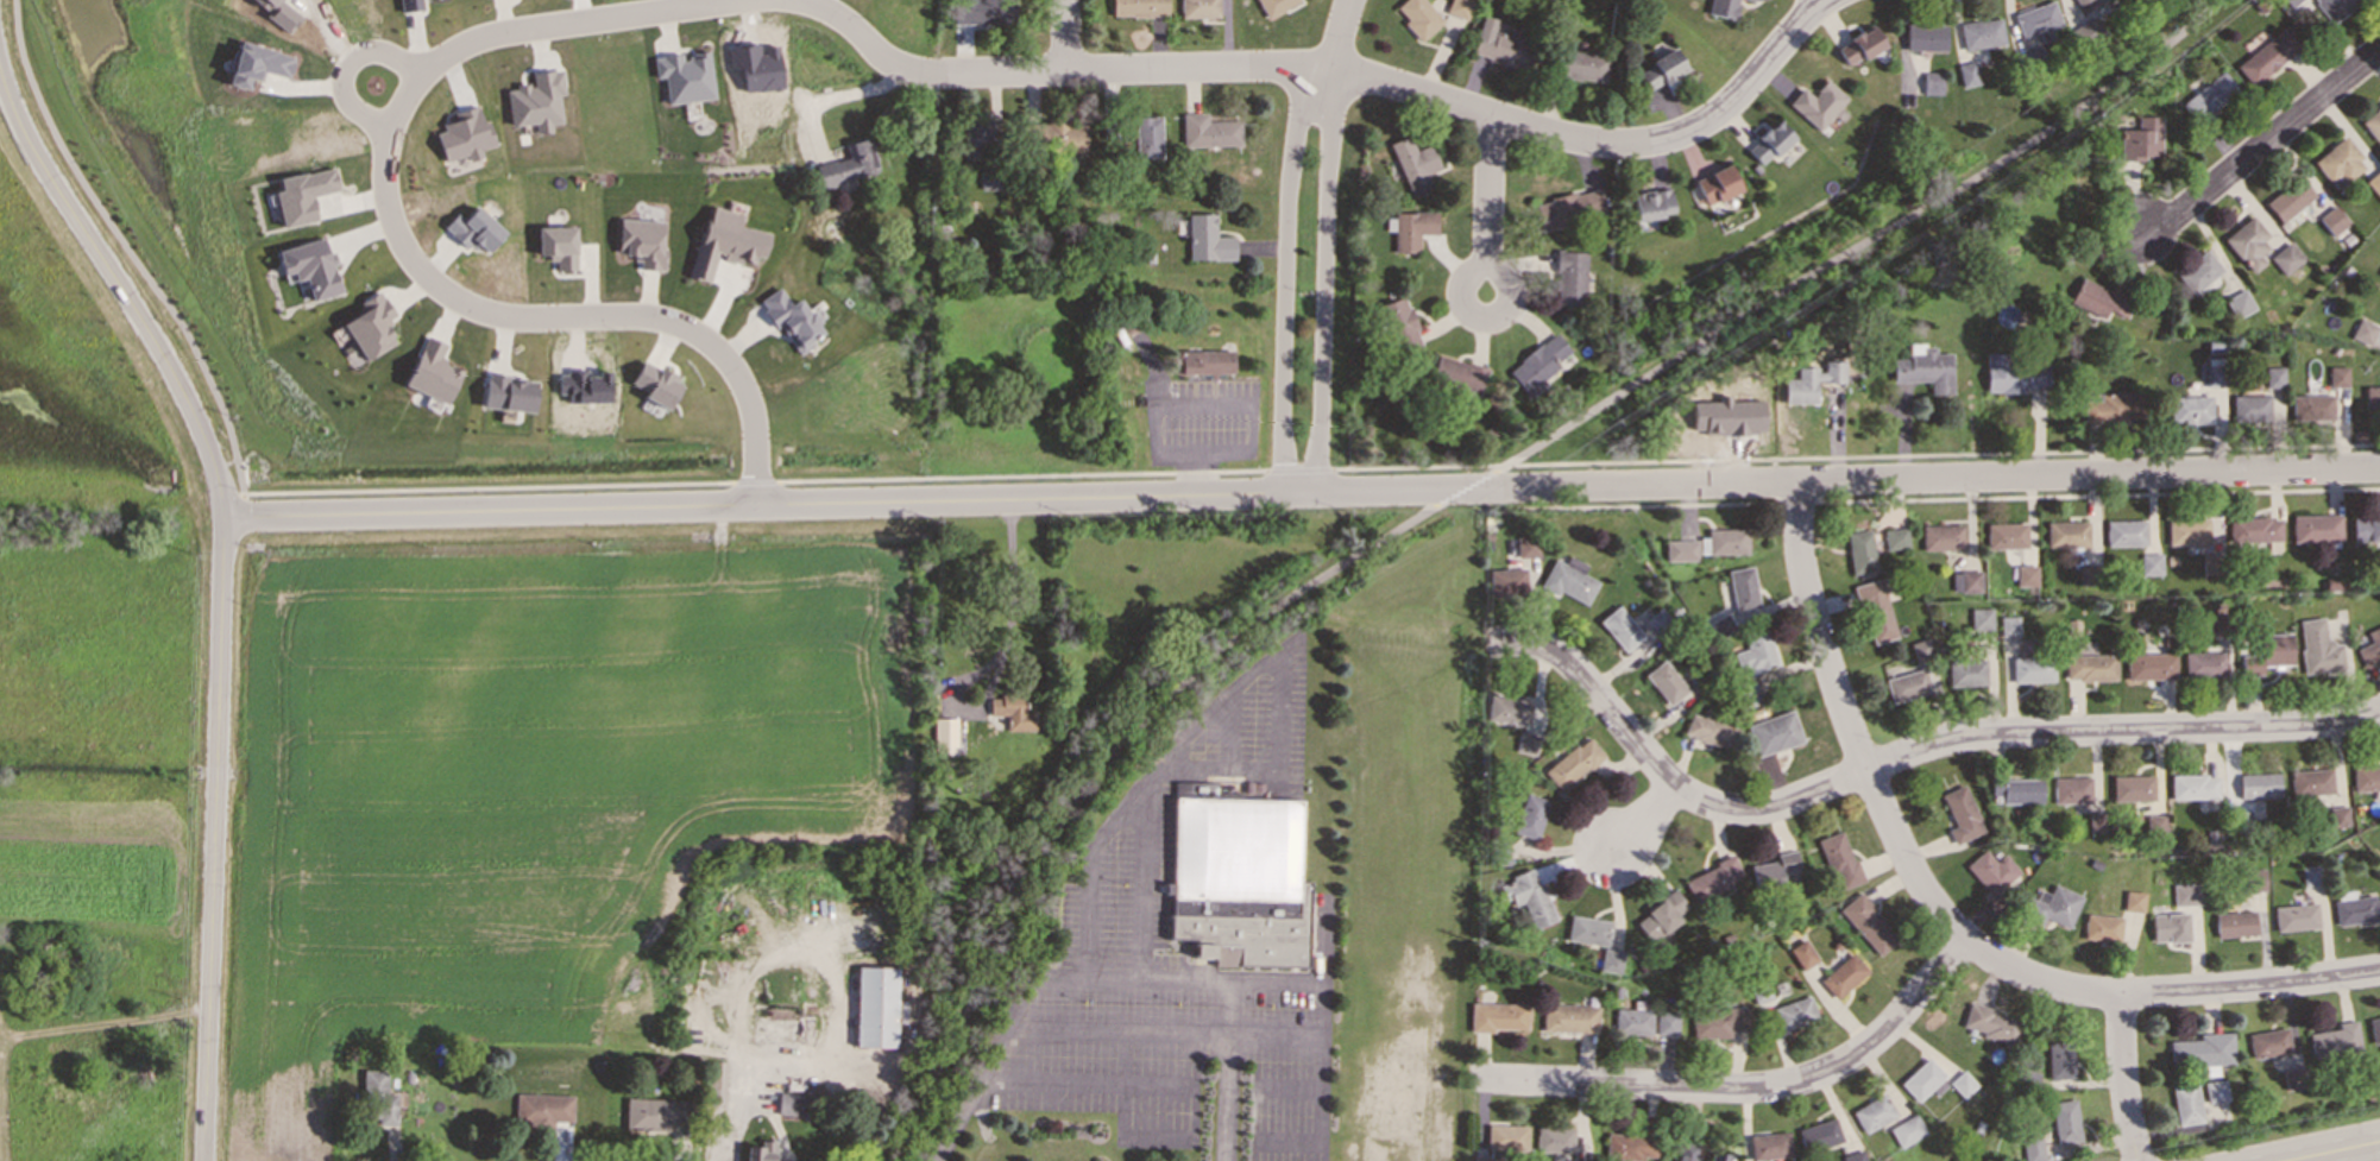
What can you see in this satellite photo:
building: (1749, 0)
building: (2290, 1)
road: (1819, 2)
building: (2085, 4)
building: (408, 5)
building: (1273, 6)
building: (1138, 7)
building: (1457, 7)
building: (1721, 7)
building: (2335, 7)
building: (1198, 8)
building: (982, 11)
building: (1417, 17)
building: (2036, 21)
road: (1340, 32)
building: (1981, 33)
road: (1064, 36)
building: (1923, 37)
building: (1500, 43)
building: (1859, 45)
building: (2267, 55)
building: (256, 63)
road: (339, 64)
building: (1582, 65)
building: (1660, 69)
building: (1967, 74)
building: (684, 76)
building: (1931, 82)
road: (1402, 88)
building: (2209, 96)
building: (535, 101)
building: (1817, 103)
building: (2372, 122)
building: (1208, 131)
building: (1056, 133)
building: (462, 135)
building: (1147, 137)
building: (976, 138)
building: (2140, 139)
building: (1768, 141)
road: (385, 145)
road: (2261, 146)
building: (2338, 163)
building: (848, 164)
building: (1413, 164)
building: (990, 178)
building: (2374, 183)
building: (1717, 184)
building: (301, 195)
building: (2288, 198)
building: (1650, 203)
road: (1487, 206)
building: (1568, 207)
building: (2331, 220)
building: (472, 229)
building: (1411, 229)
building: (1207, 239)
building: (724, 241)
building: (640, 242)
building: (2247, 242)
building: (555, 246)
building: (2285, 258)
building: (309, 266)
building: (2198, 271)
building: (2379, 273)
road: (1284, 275)
building: (1569, 277)
road: (1326, 280)
building: (2099, 299)
building: (2239, 303)
building: (789, 318)
building: (1399, 323)
building: (369, 326)
building: (2363, 330)
building: (1203, 361)
building: (1537, 364)
building: (1923, 368)
building: (430, 372)
building: (1457, 373)
building: (2015, 373)
building: (2212, 376)
building: (2337, 376)
building: (2273, 377)
building: (1809, 381)
building: (653, 384)
park: (80, 392)
building: (506, 393)
building: (2372, 399)
road: (1230, 402)
building: (2311, 405)
building: (2111, 408)
building: (2249, 408)
building: (2190, 410)
road: (1462, 491)
road: (1299, 494)
building: (2365, 526)
building: (2316, 528)
building: (2253, 529)
building: (2187, 531)
building: (2124, 532)
building: (2066, 534)
building: (2006, 535)
building: (1941, 536)
building: (1894, 538)
building: (1723, 541)
building: (1526, 547)
building: (1680, 550)
building: (1859, 551)
building: (2149, 563)
building: (2208, 564)
building: (2026, 574)
building: (2086, 574)
building: (1568, 580)
building: (1507, 581)
building: (1965, 581)
building: (1742, 588)
road: (220, 589)
building: (1875, 611)
building: (1656, 618)
building: (1981, 618)
building: (2009, 625)
building: (2212, 625)
building: (1719, 626)
building: (1620, 627)
building: (2318, 648)
building: (2368, 648)
building: (1920, 650)
building: (1755, 652)
building: (2265, 652)
road: (1000, 658)
building: (2204, 664)
building: (2149, 665)
building: (2089, 667)
building: (2032, 669)
building: (1965, 673)
building: (1664, 682)
building: (1907, 686)
building: (1509, 709)
building: (1013, 712)
building: (1708, 728)
building: (1774, 732)
building: (944, 734)
building: (1526, 743)
road: (1900, 756)
building: (1573, 763)
building: (2366, 777)
building: (2311, 781)
building: (2192, 785)
building: (2258, 785)
building: (2132, 788)
building: (2071, 789)
building: (2021, 790)
building: (1960, 814)
building: (1529, 815)
building: (2337, 816)
road: (1645, 818)
building: (2095, 821)
road: (1096, 853)
building: (1838, 859)
building: (1773, 869)
building: (2309, 875)
building: (1992, 876)
building: (2254, 878)
building: (1711, 879)
building: (1239, 881)
building: (2185, 894)
building: (1526, 898)
building: (2133, 901)
building: (2052, 906)
building: (2355, 908)
road: (1941, 915)
building: (1658, 916)
building: (2296, 916)
building: (1868, 923)
building: (2234, 923)
building: (2168, 927)
building: (2101, 928)
building: (1587, 929)
building: (1801, 954)
road: (808, 955)
building: (1611, 960)
building: (1843, 974)
road: (1272, 979)
building: (876, 1007)
building: (1793, 1012)
building: (1497, 1016)
building: (1569, 1017)
building: (1631, 1022)
building: (1666, 1022)
building: (1718, 1022)
building: (1991, 1024)
road: (1110, 1028)
building: (2374, 1030)
building: (2335, 1041)
building: (2268, 1042)
building: (2202, 1052)
building: (2059, 1059)
road: (2123, 1077)
building: (2292, 1078)
building: (1922, 1080)
building: (1962, 1084)
road: (1744, 1089)
building: (2215, 1091)
building: (379, 1096)
building: (2185, 1103)
building: (789, 1104)
building: (543, 1108)
road: (737, 1108)
building: (1872, 1112)
building: (654, 1113)
building: (2064, 1121)
building: (1906, 1130)
building: (1818, 1135)
building: (1506, 1137)
building: (1554, 1140)
building: (1630, 1144)
building: (1769, 1146)
building: (2032, 1148)
road: (2324, 1149)
building: (761, 1150)
building: (1685, 1151)
building: (1718, 1156)
building: (1853, 1156)
building: (1480, 1159)

